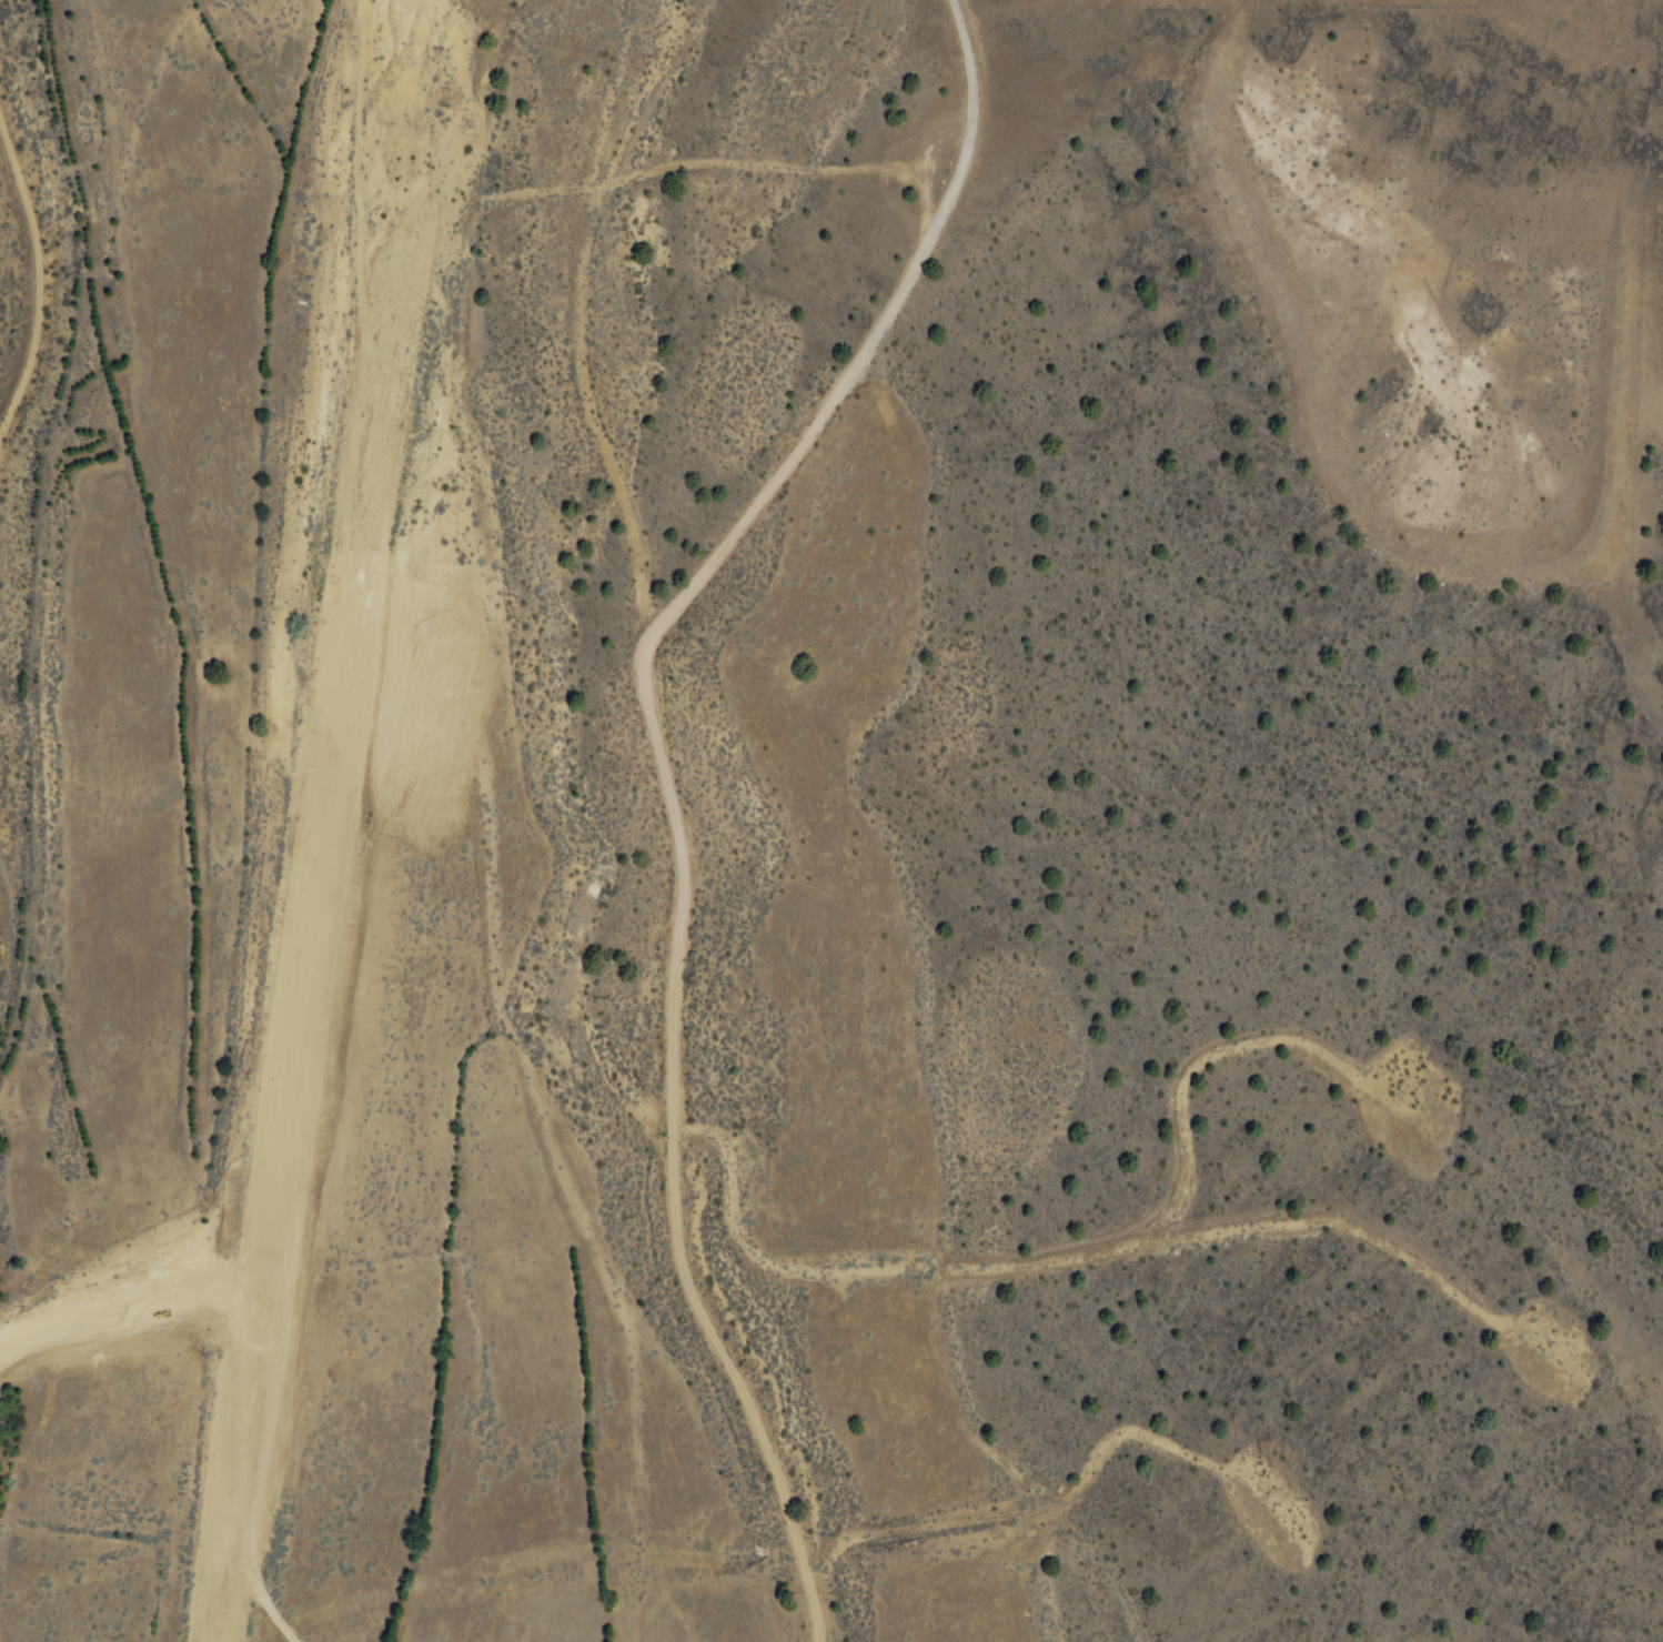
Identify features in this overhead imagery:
road: (42, 254)
airport runway: (304, 820)
road: (683, 826)
airport taxiway: (114, 1310)

